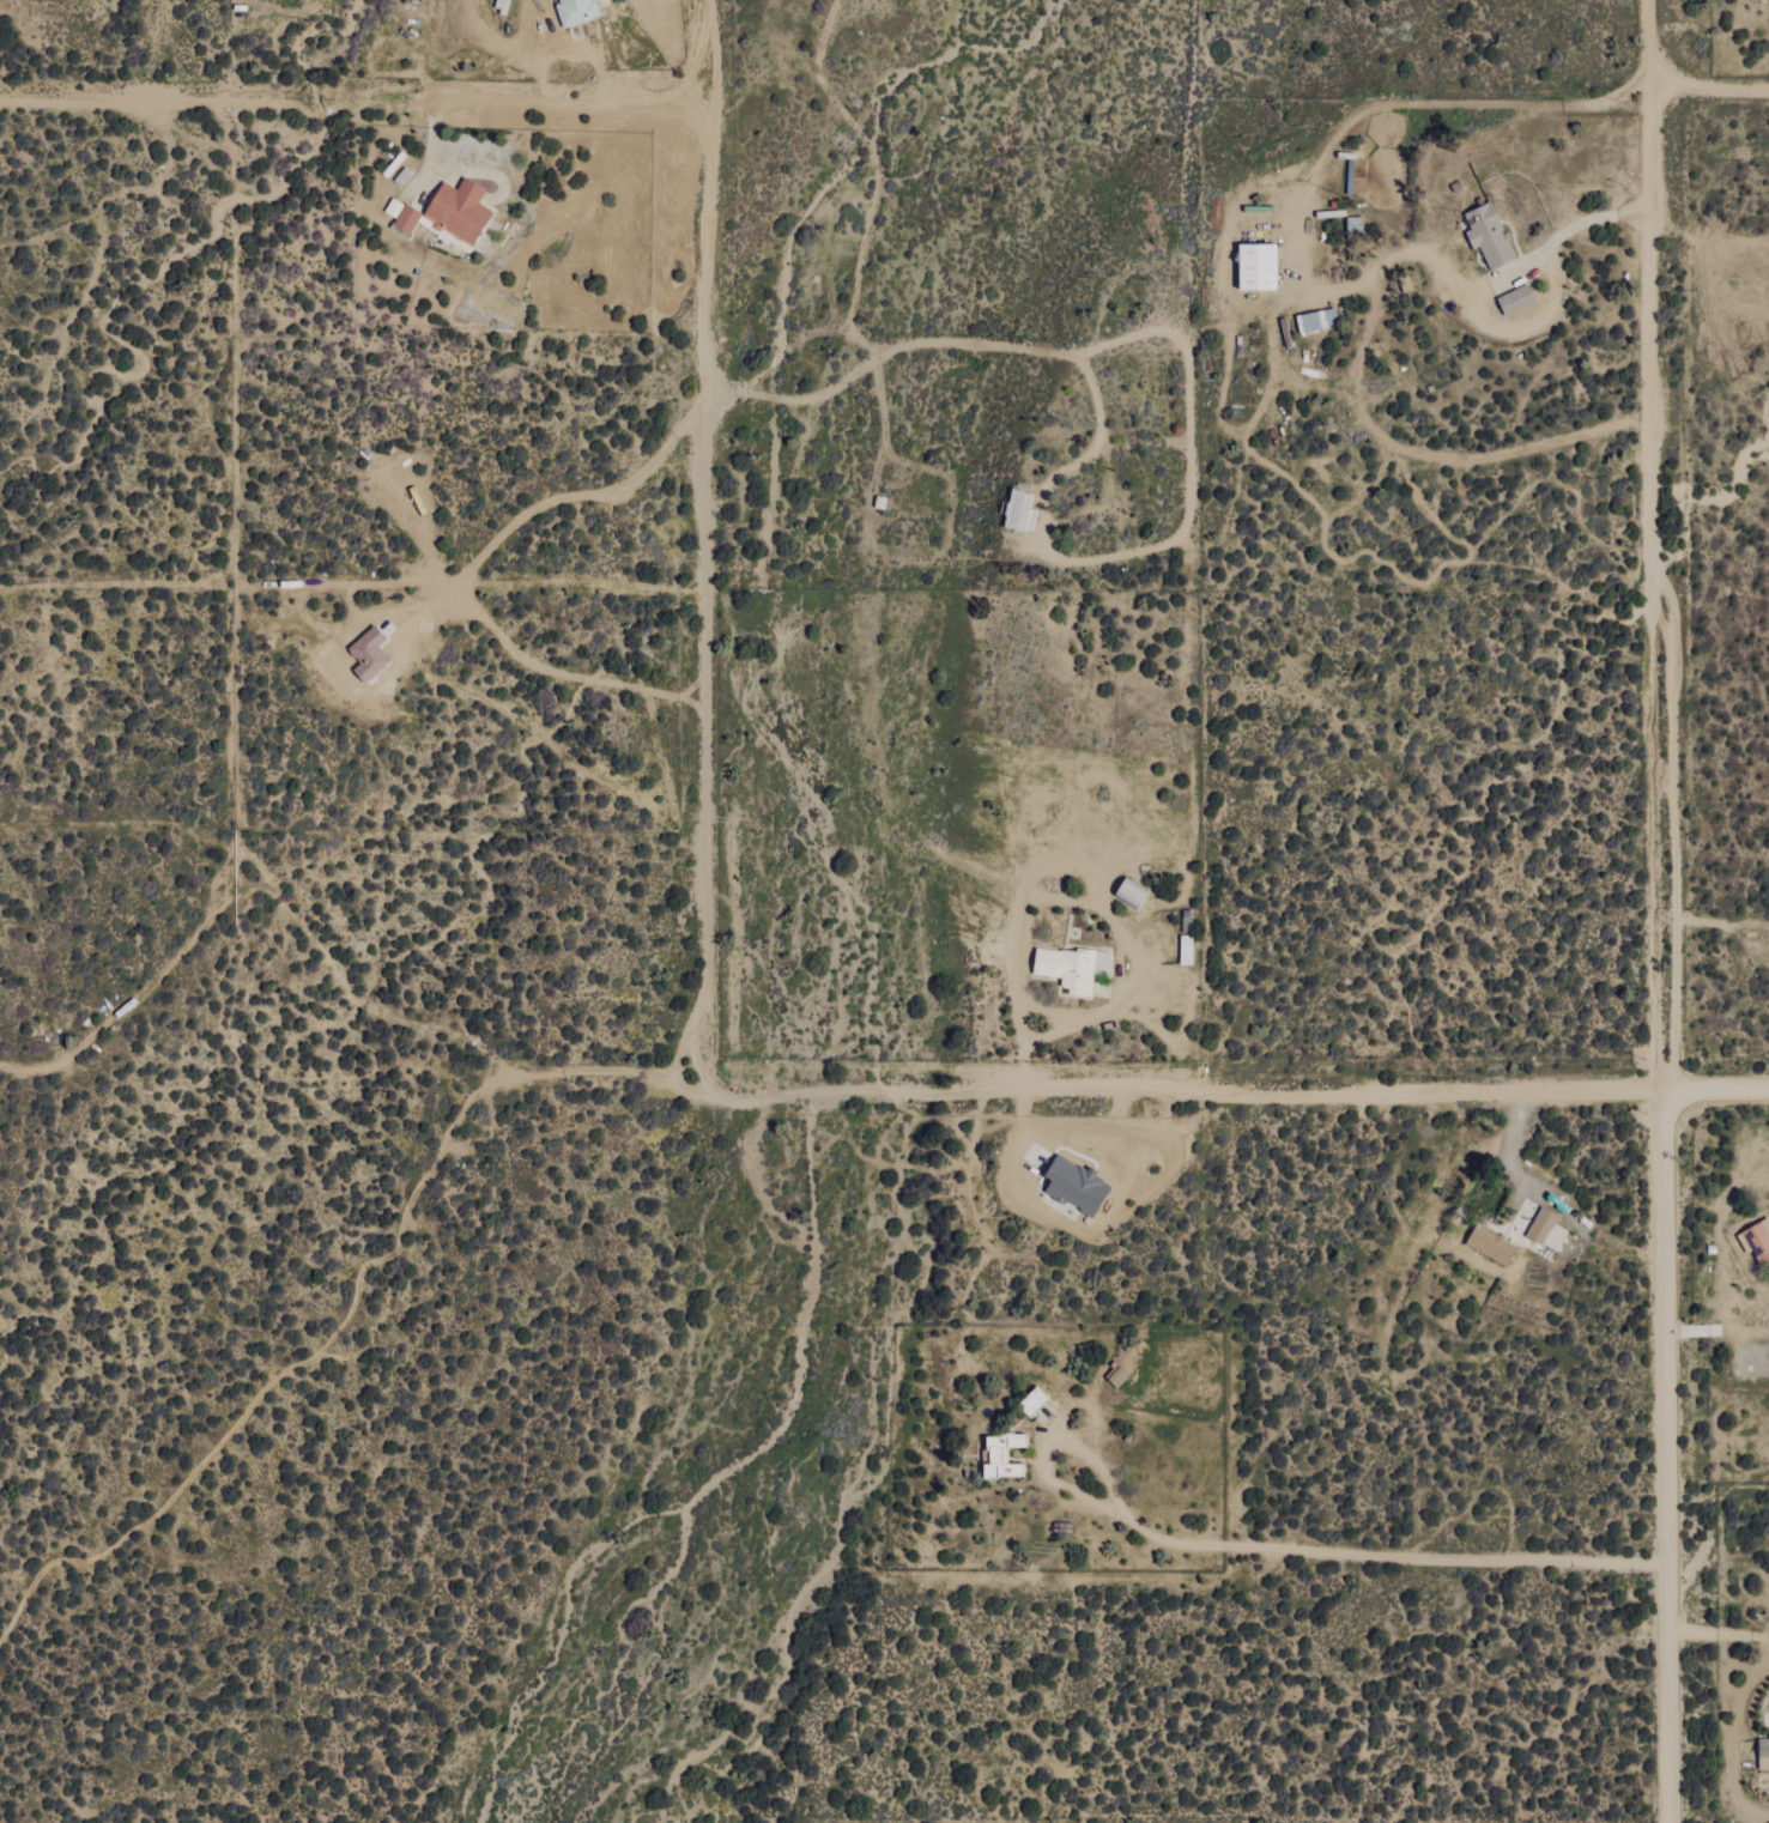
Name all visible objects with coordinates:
building: (576, 12)
road: (1709, 86)
road: (355, 102)
road: (876, 176)
building: (394, 210)
building: (456, 214)
building: (407, 219)
building: (1488, 236)
road: (1522, 265)
building: (1256, 267)
road: (1302, 274)
building: (1515, 301)
building: (1316, 321)
road: (1055, 474)
building: (1019, 511)
road: (1652, 545)
road: (707, 547)
road: (466, 576)
road: (1099, 901)
building: (1185, 950)
building: (1070, 968)
road: (1086, 1090)
road: (1719, 1090)
road: (1513, 1147)
building: (1546, 1229)
building: (1756, 1241)
road: (1722, 1326)
building: (1031, 1401)
building: (1001, 1456)
road: (1670, 1456)
road: (1339, 1550)
road: (1719, 1636)
building: (1763, 1752)

